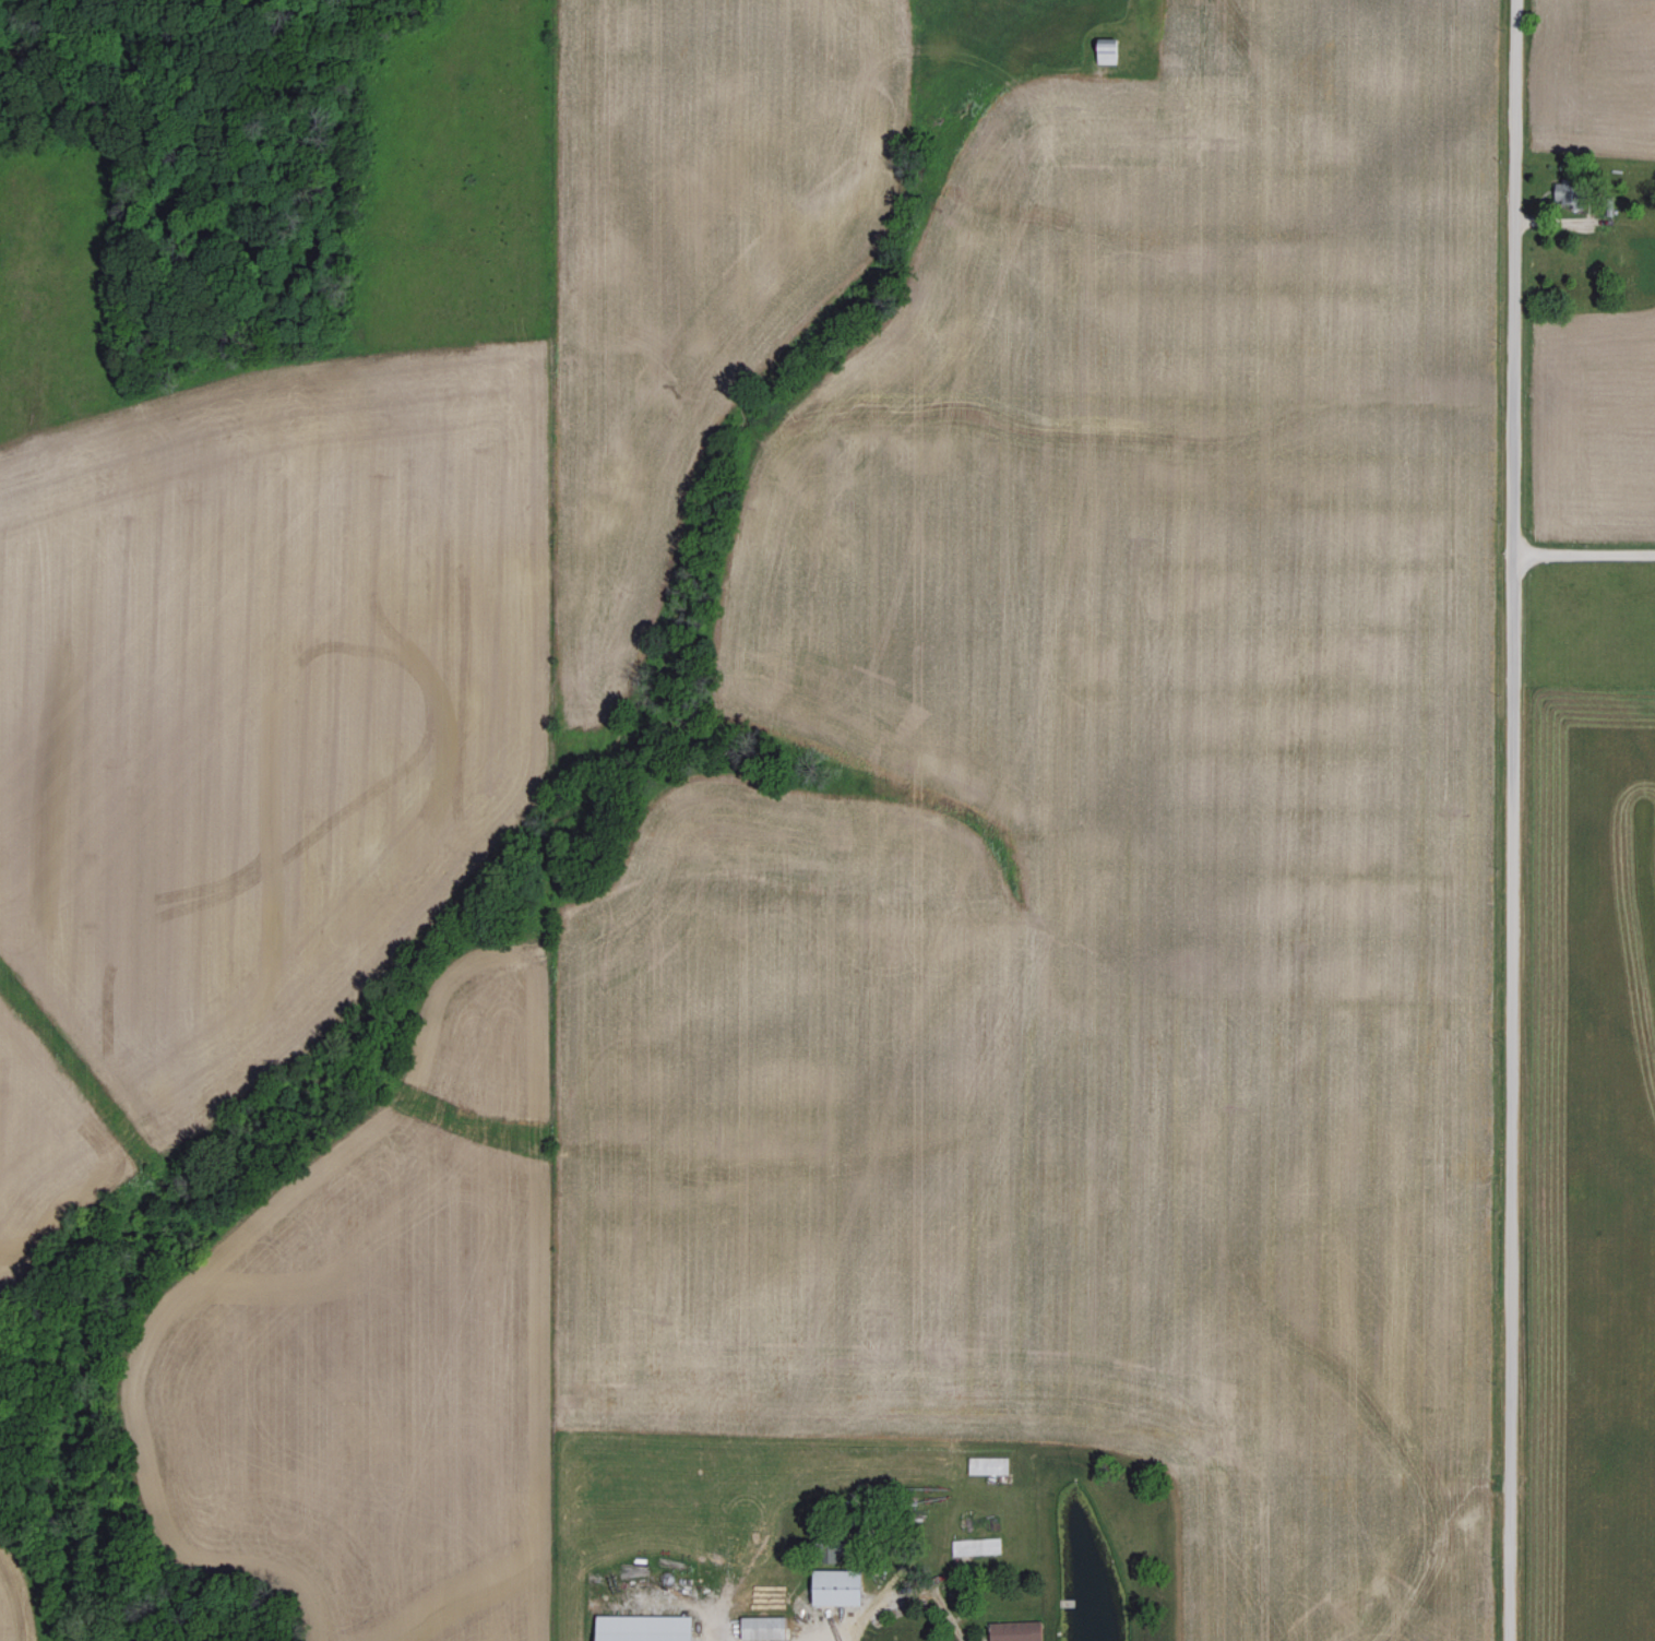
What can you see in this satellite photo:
building: (1557, 192)
road: (1583, 554)
road: (1511, 820)
building: (824, 1553)
building: (832, 1586)
building: (758, 1627)
building: (635, 1628)
building: (1011, 1630)

